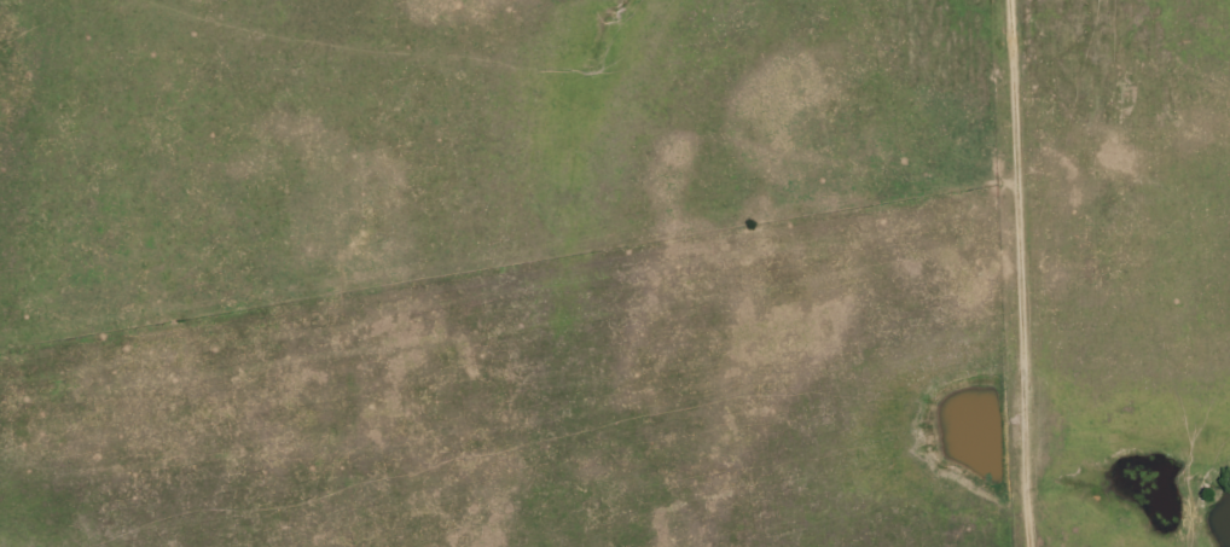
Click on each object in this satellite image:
road: (1023, 273)

